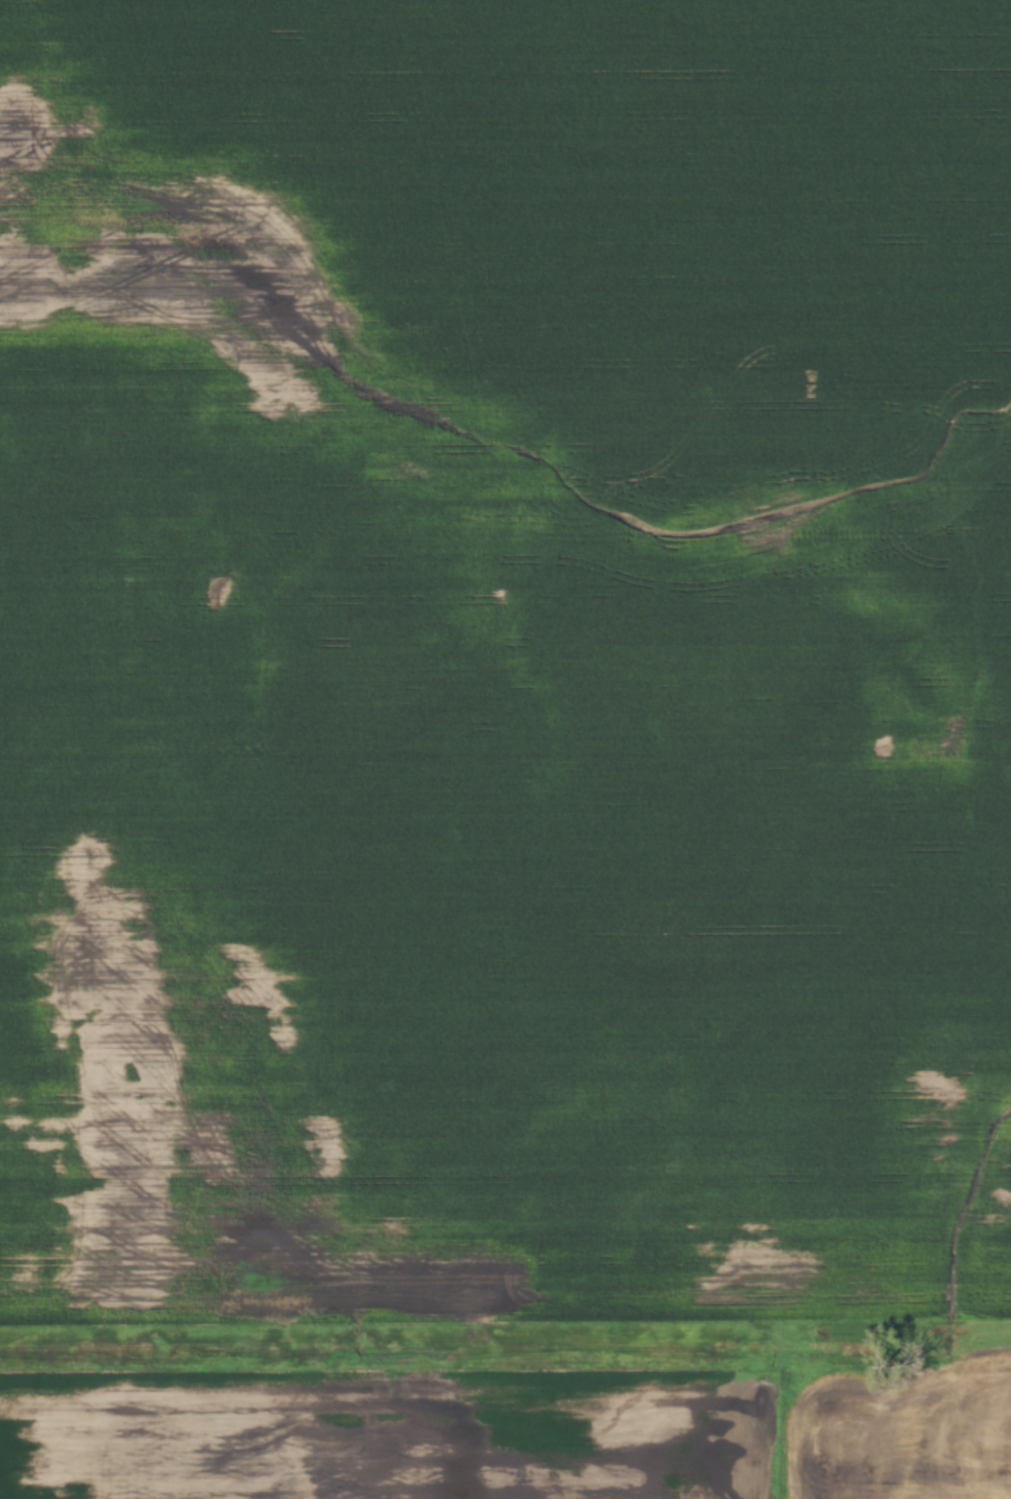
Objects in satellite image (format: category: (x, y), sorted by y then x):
road: (505, 1349)

